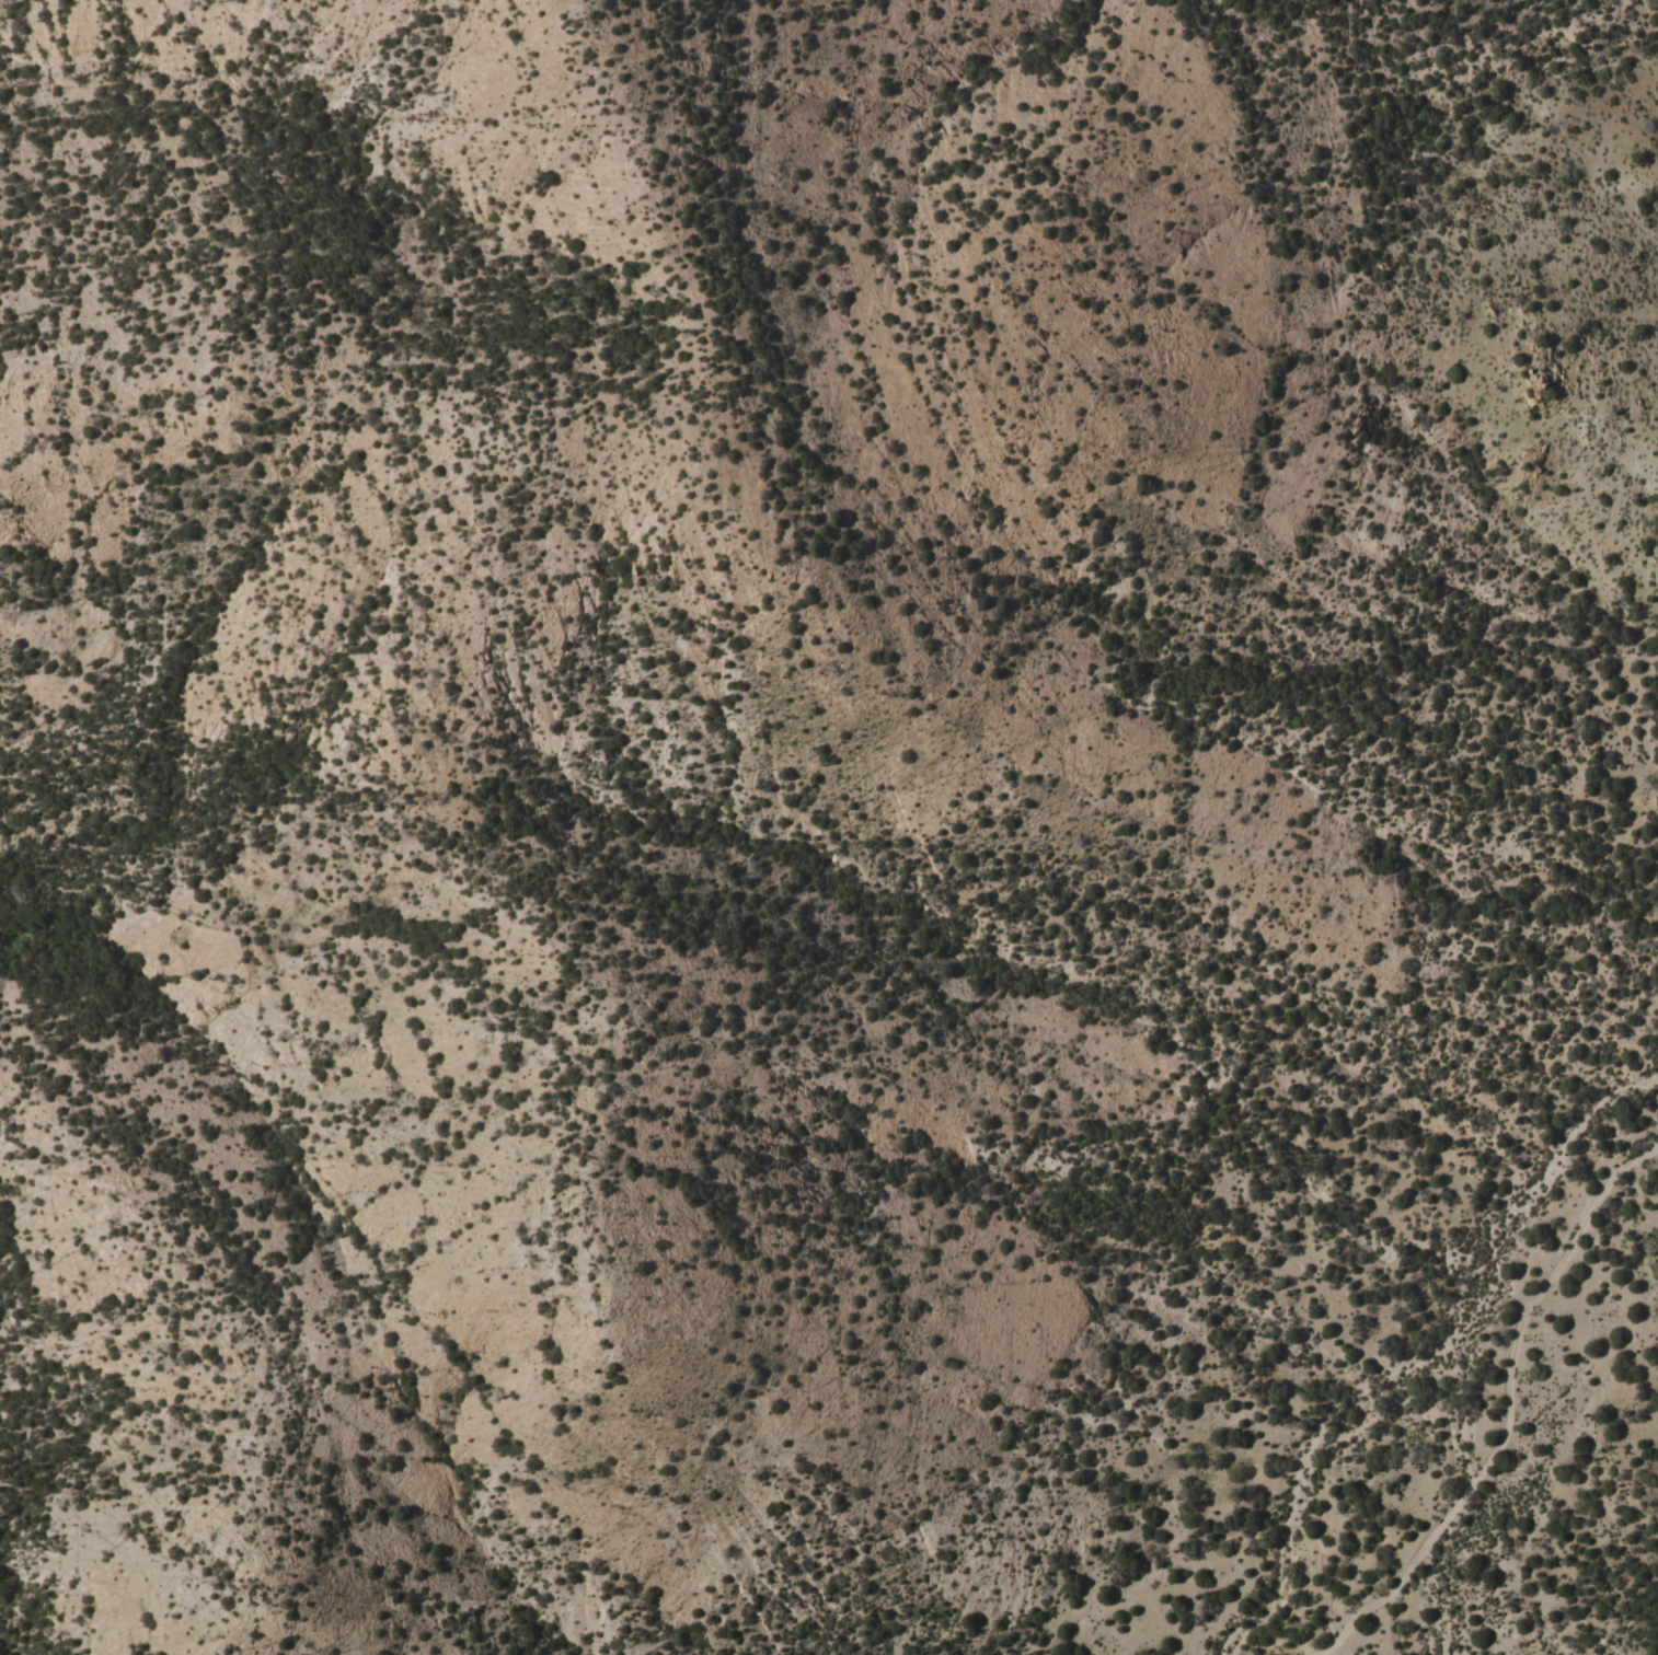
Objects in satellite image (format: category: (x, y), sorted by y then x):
road: (1505, 1408)

